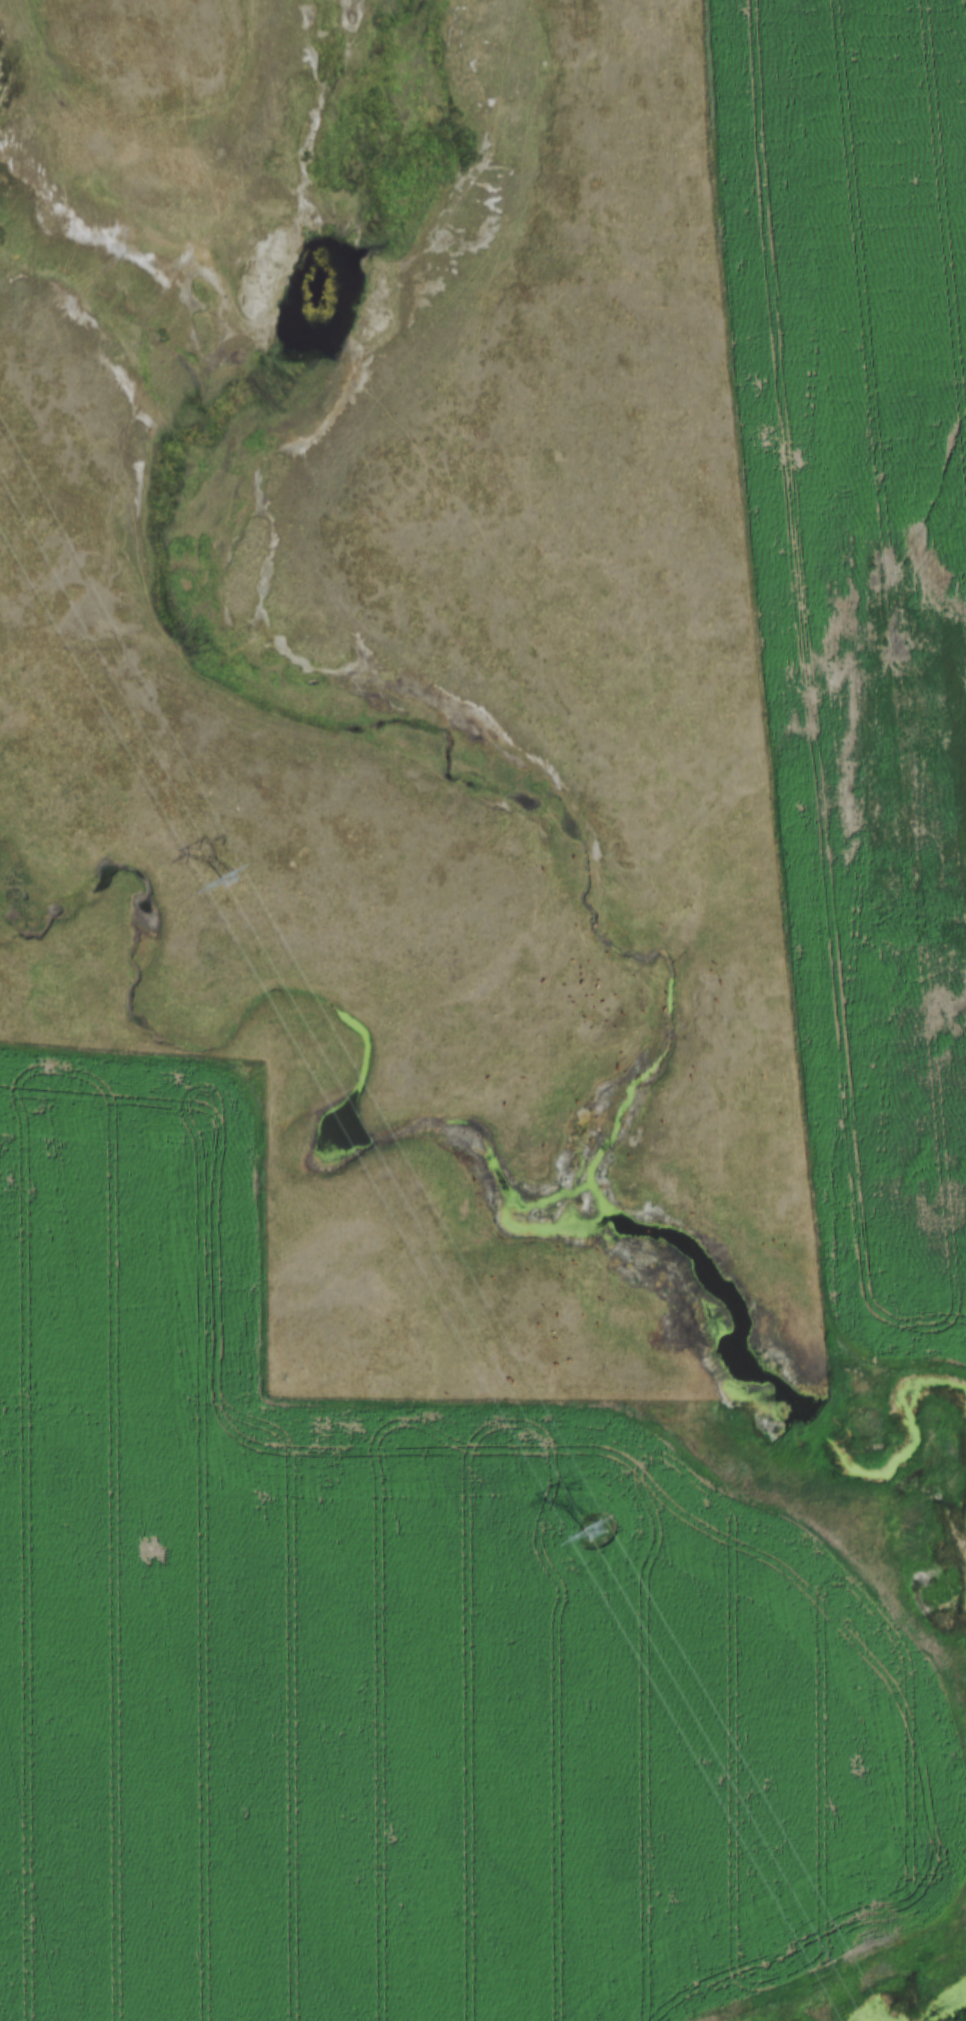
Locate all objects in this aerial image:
power tower: (230, 869)
power tower: (594, 1533)

